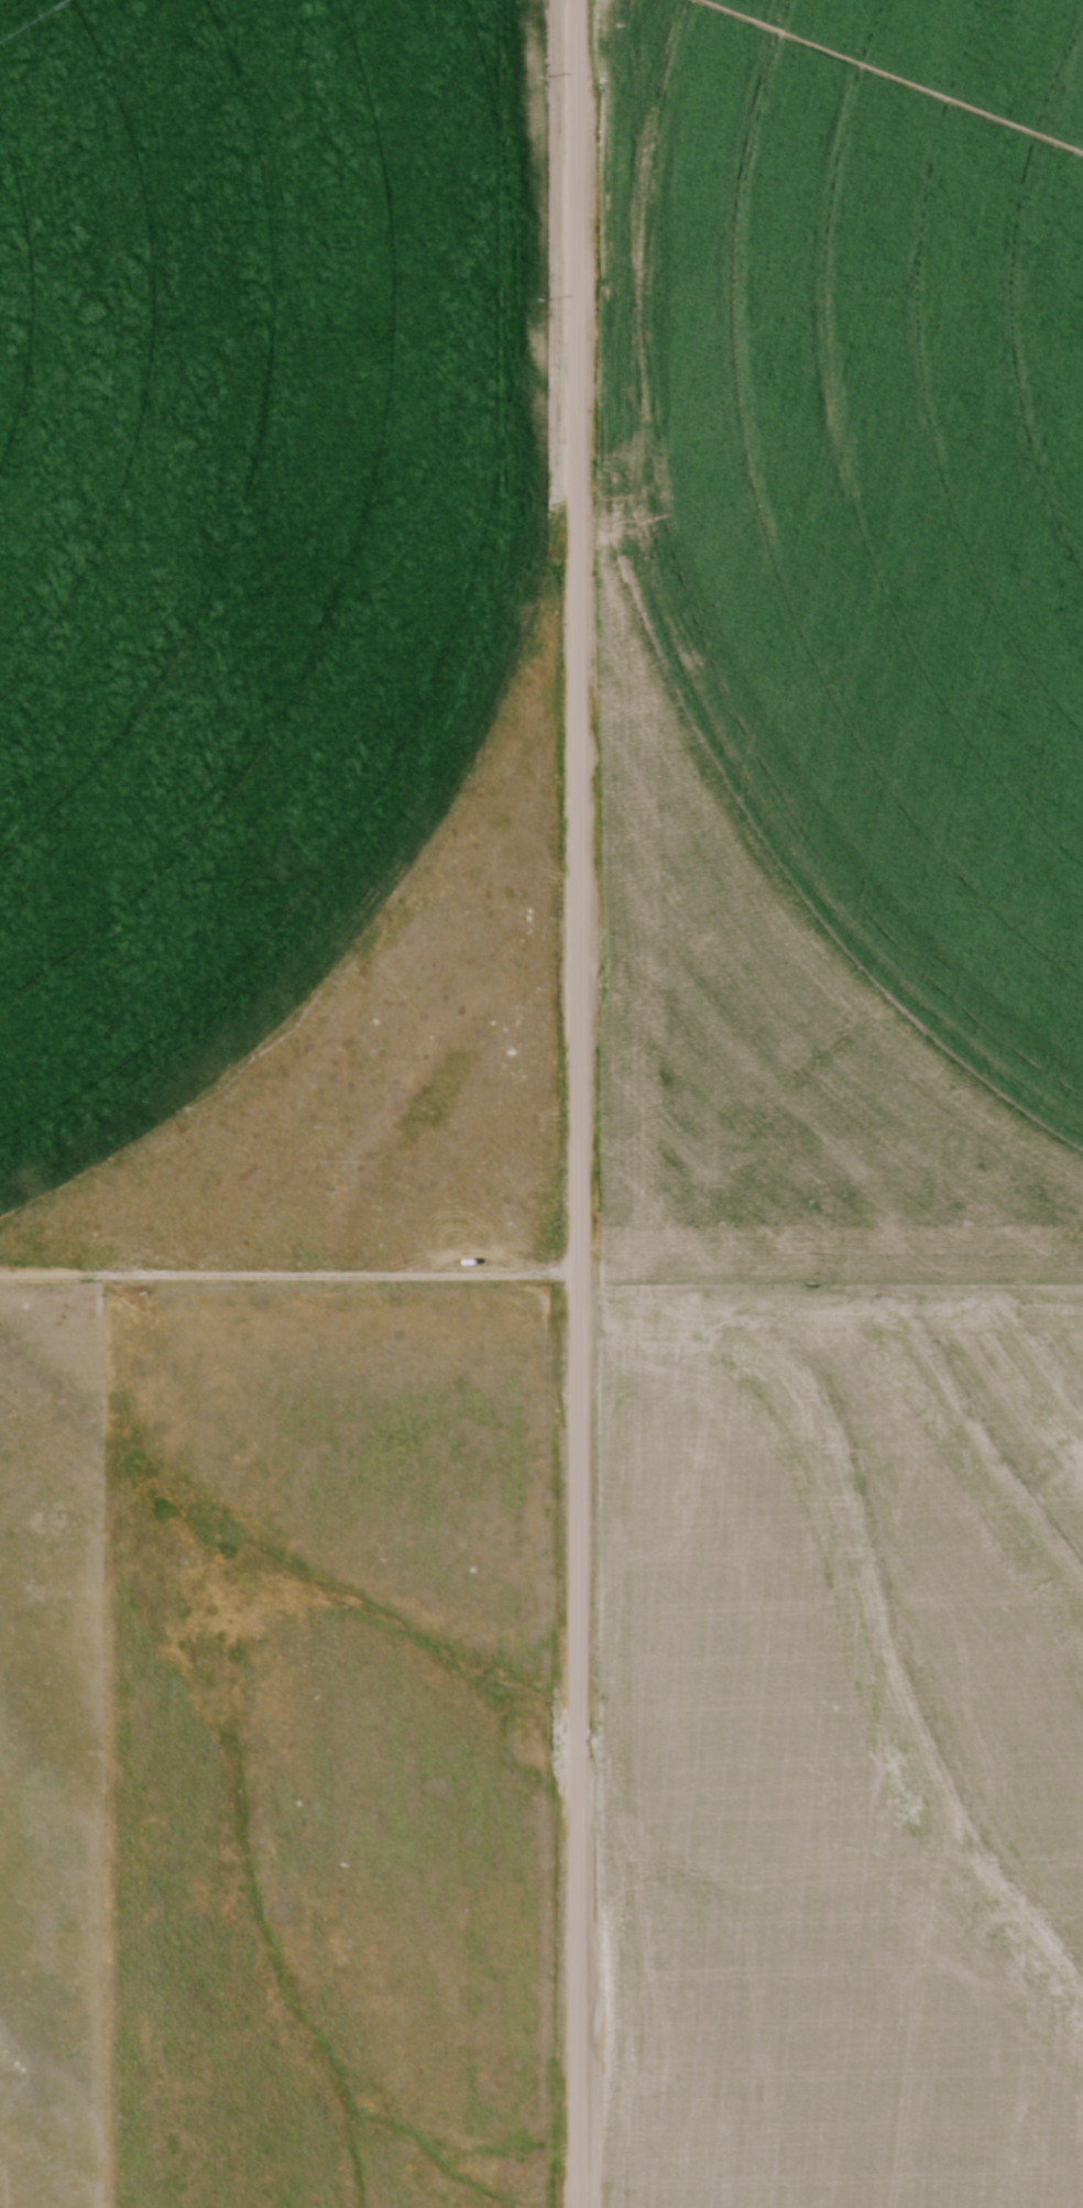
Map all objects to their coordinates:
road: (580, 1103)

